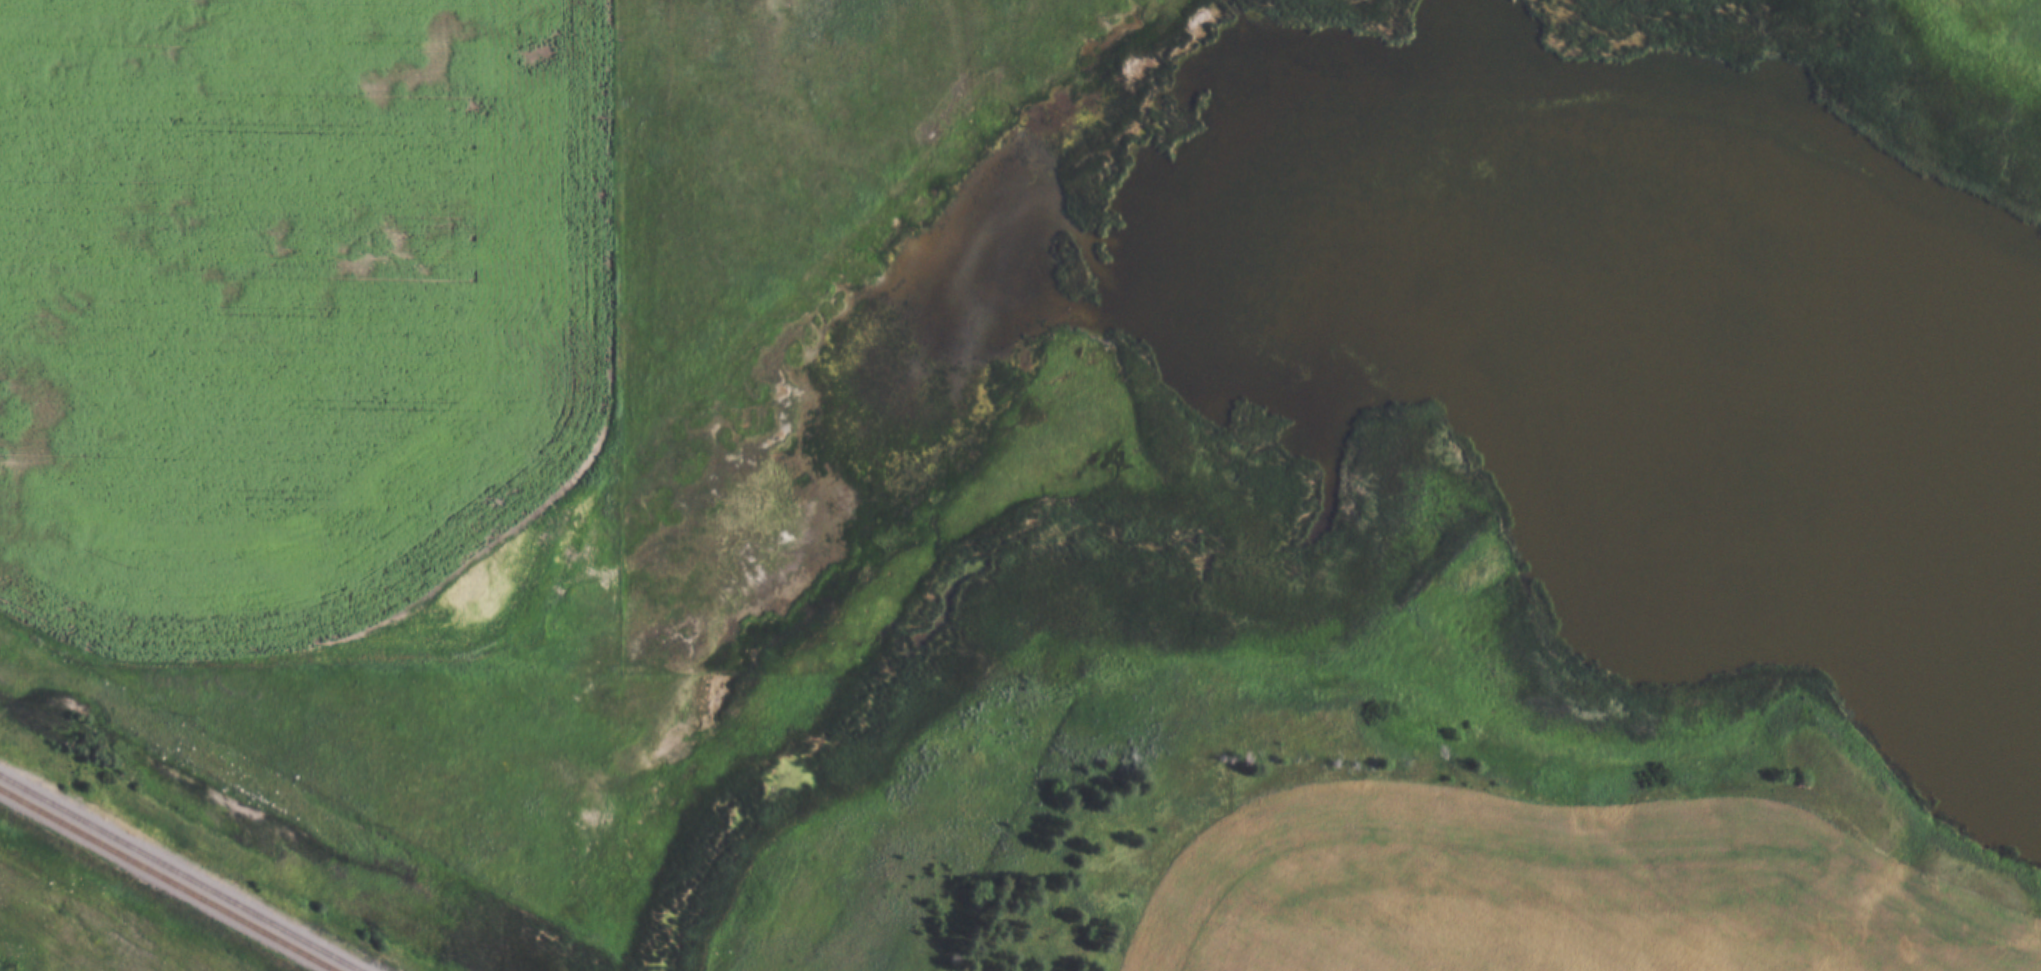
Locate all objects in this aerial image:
railway: (178, 873)
railway: (166, 880)

